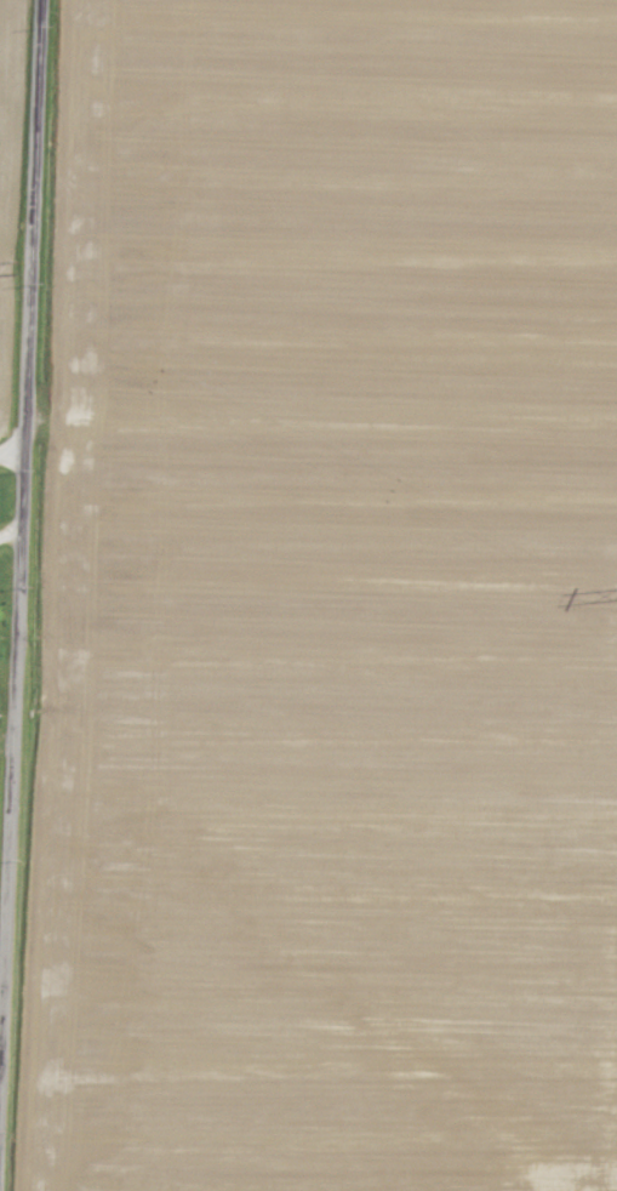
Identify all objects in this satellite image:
power tower: (22, 263)
road: (33, 594)

